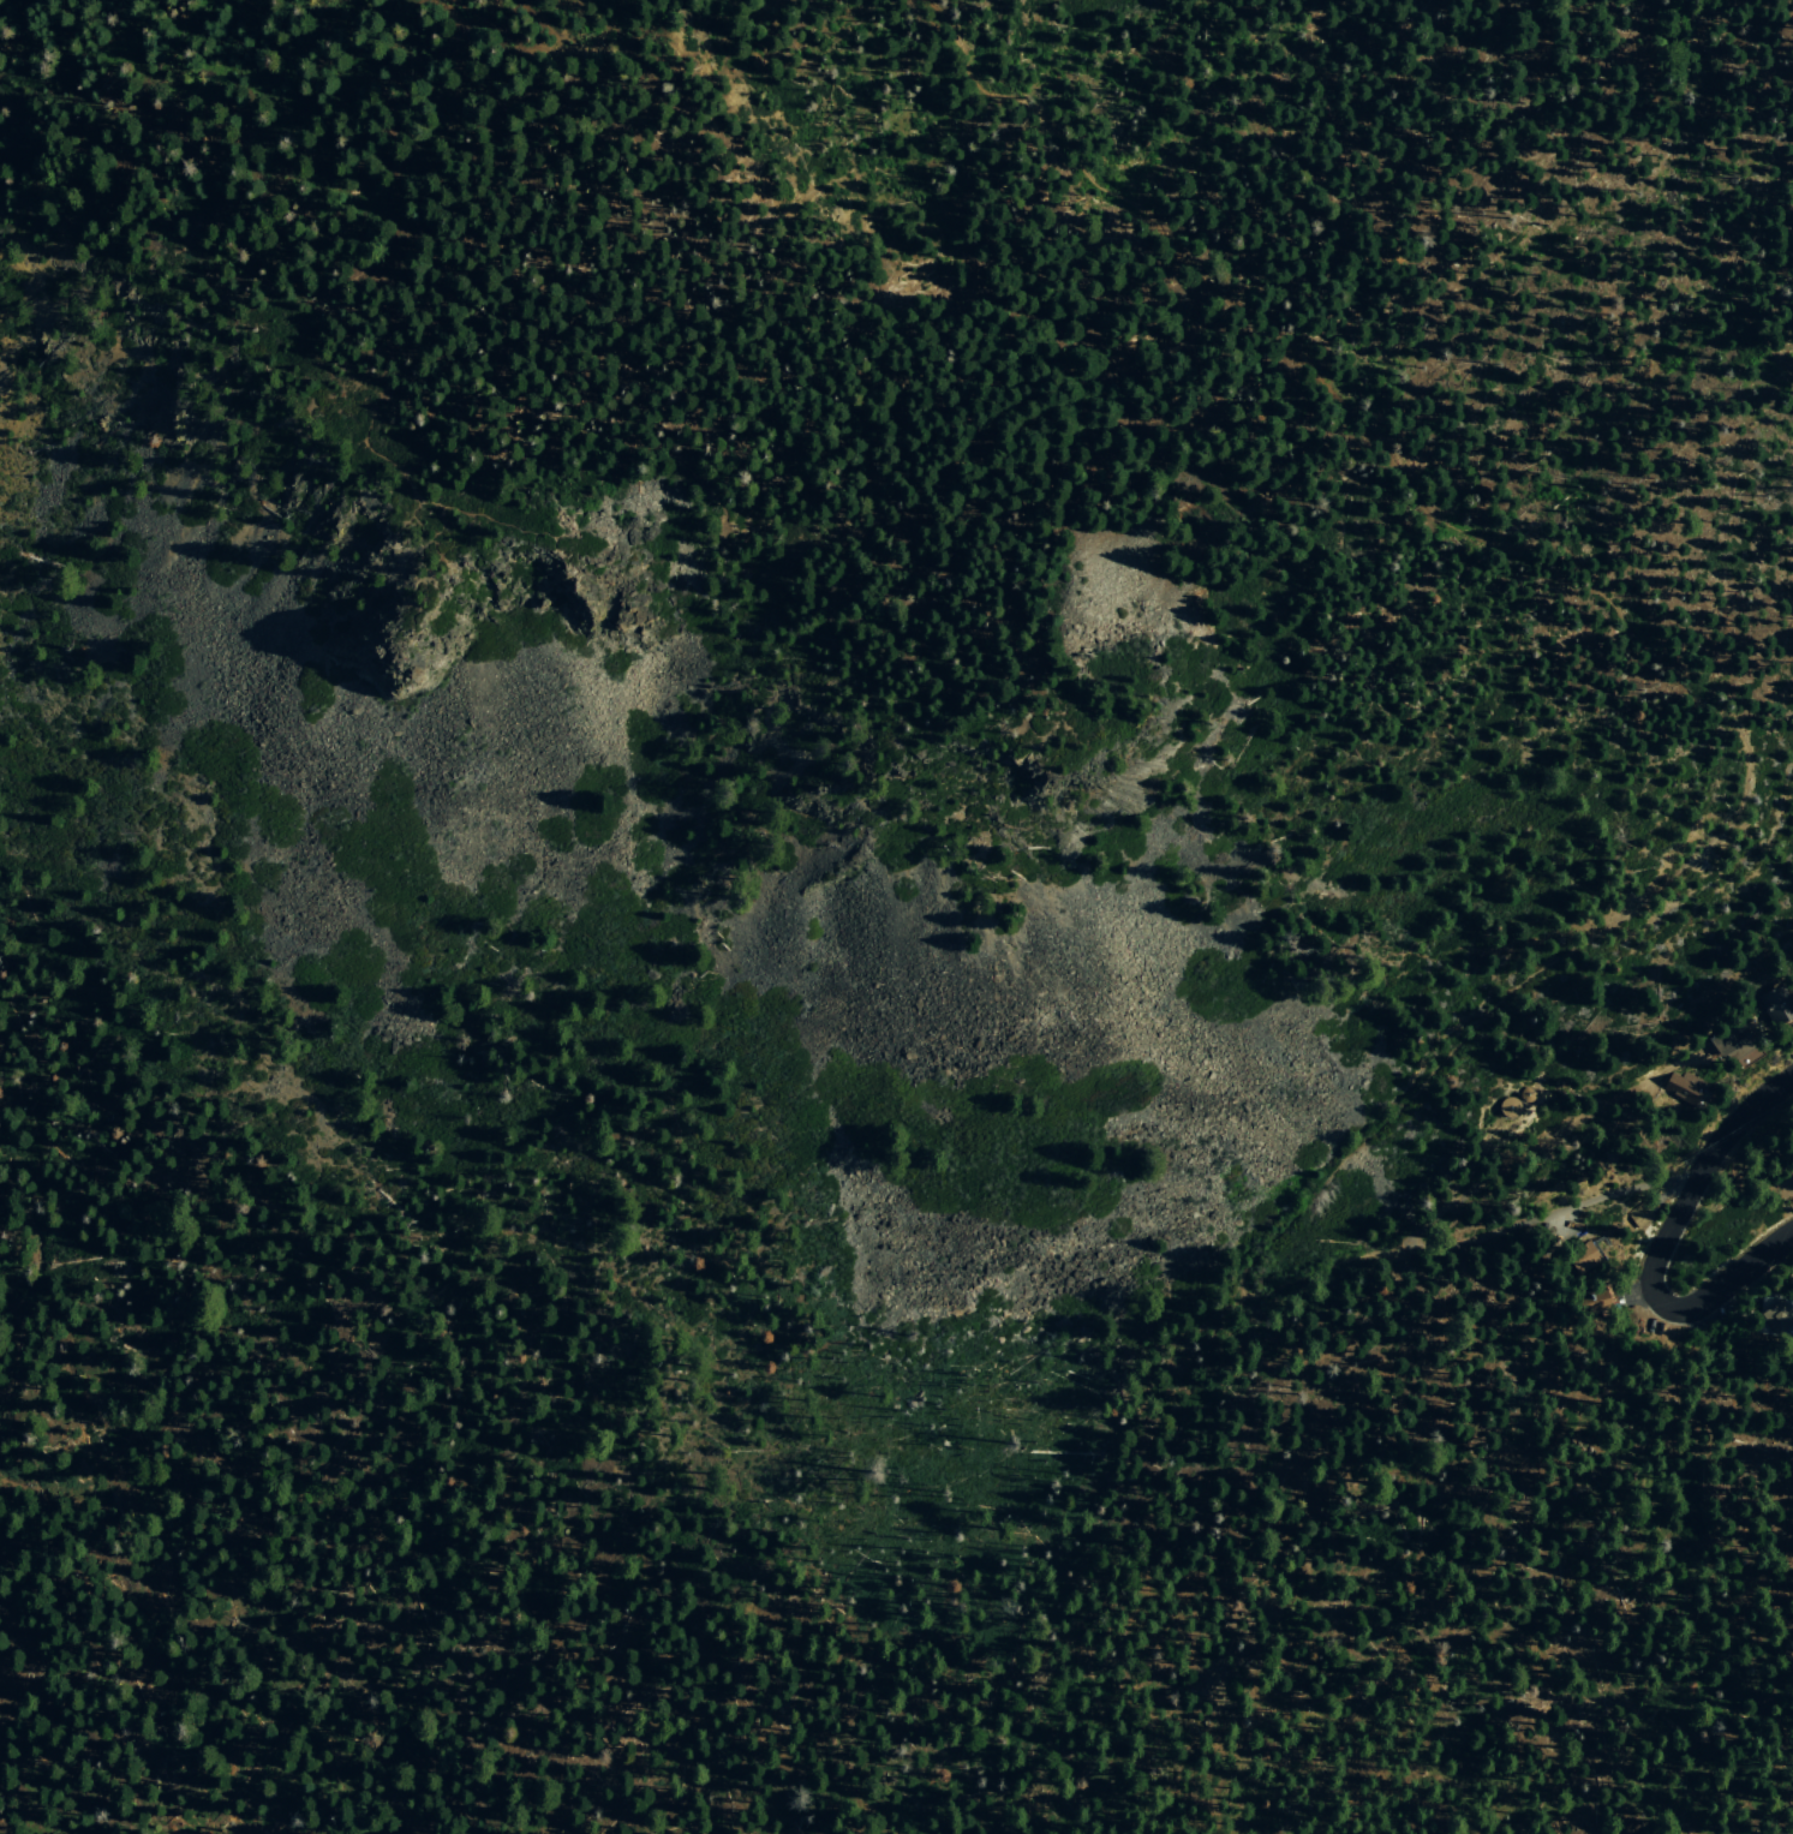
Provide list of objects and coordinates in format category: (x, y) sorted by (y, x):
road: (510, 46)
road: (372, 154)
road: (408, 490)
building: (795, 545)
road: (1651, 664)
building: (1775, 1005)
building: (1732, 1049)
building: (1683, 1087)
building: (1508, 1107)
road: (1540, 1128)
road: (1695, 1178)
road: (1566, 1206)
building: (1640, 1215)
road: (1417, 1220)
building: (1582, 1257)
road: (1732, 1277)
building: (1598, 1300)
building: (1775, 1315)

